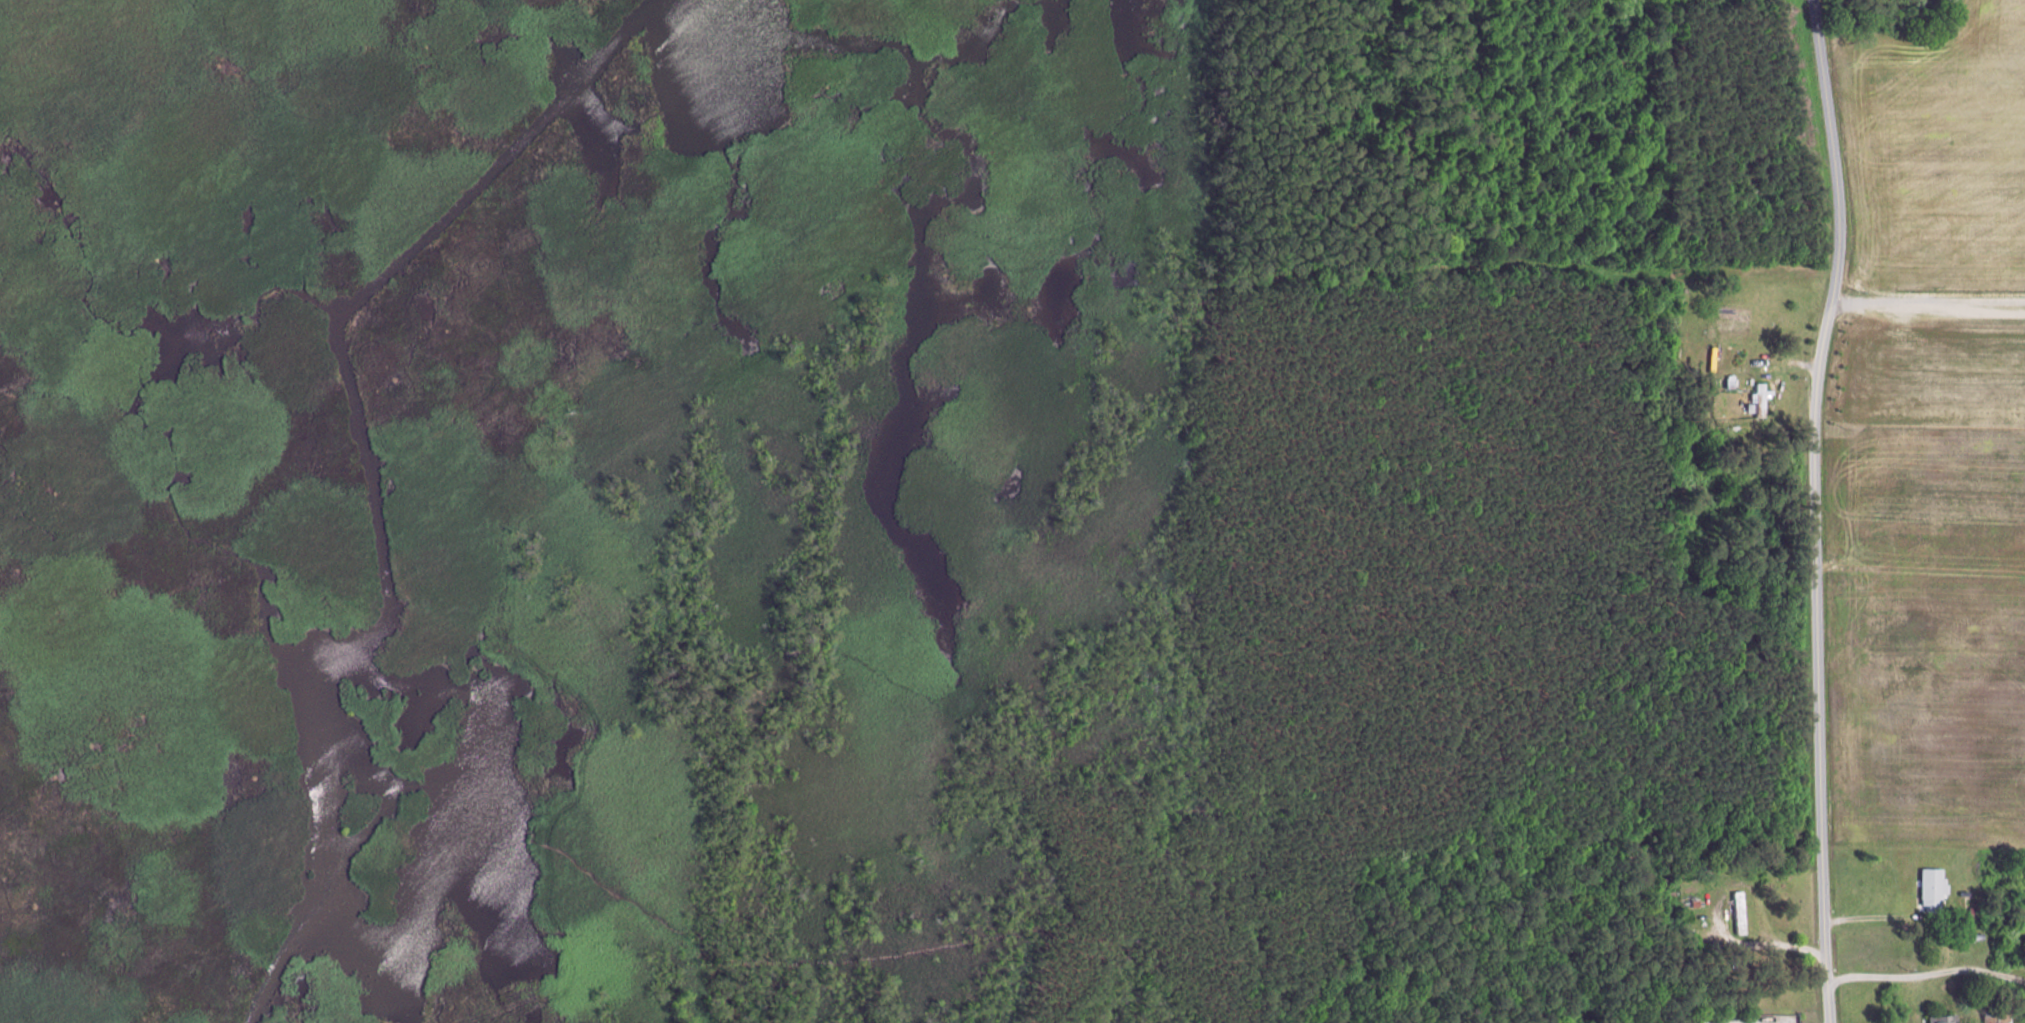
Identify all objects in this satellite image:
crop: (1935, 149)
road: (1928, 302)
road: (1787, 367)
building: (1731, 379)
building: (1761, 397)
road: (1815, 509)
crop: (1927, 633)
building: (1933, 888)
building: (1974, 909)
building: (1740, 912)
road: (1877, 917)
road: (1723, 918)
building: (1980, 936)
road: (1927, 970)
road: (1914, 997)
building: (1985, 1012)
building: (2007, 1012)
building: (1944, 1018)

